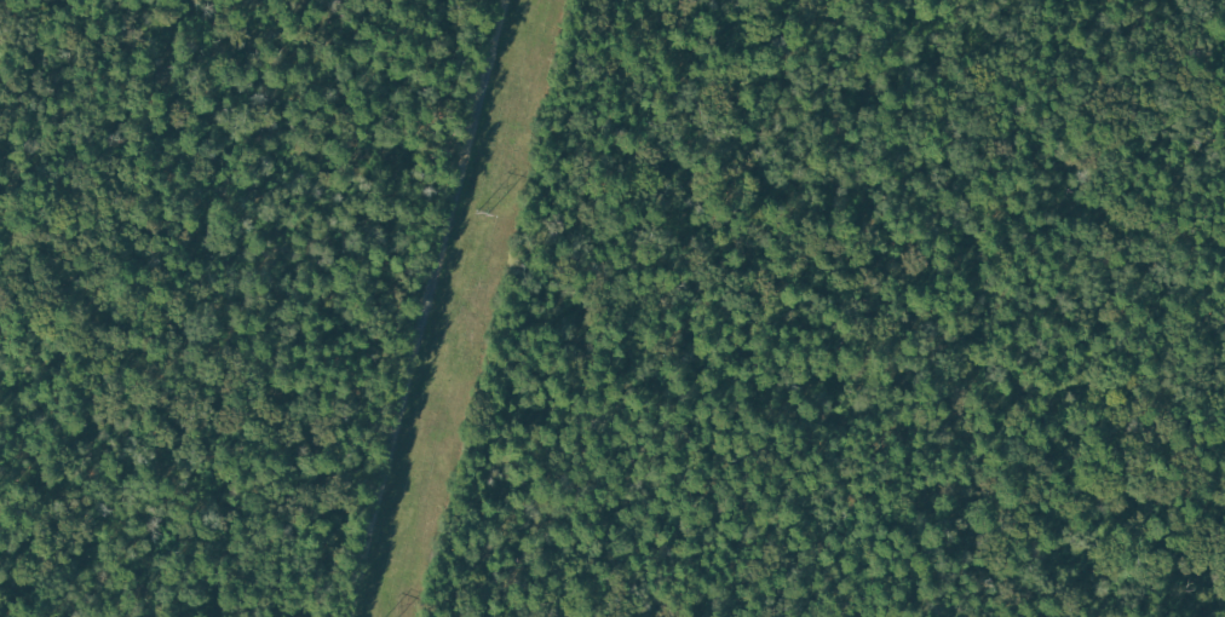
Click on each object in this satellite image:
power tower: (482, 214)
road: (438, 308)

